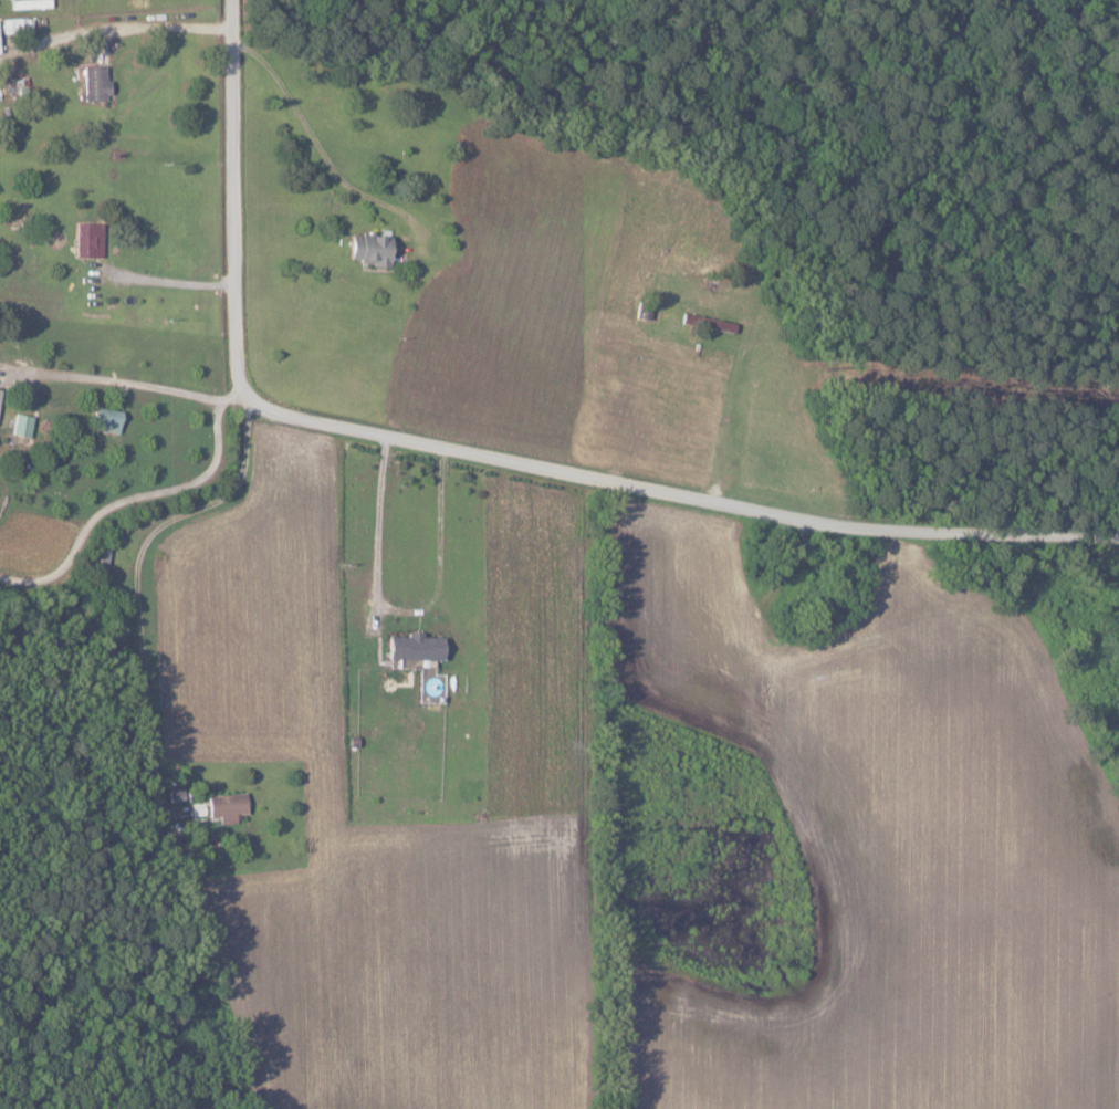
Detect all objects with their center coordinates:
road: (117, 29)
building: (94, 84)
road: (320, 148)
building: (87, 240)
building: (368, 250)
road: (168, 282)
road: (125, 381)
building: (104, 419)
building: (21, 425)
road: (485, 452)
road: (139, 499)
road: (135, 567)
road: (399, 609)
building: (414, 646)
building: (226, 806)

